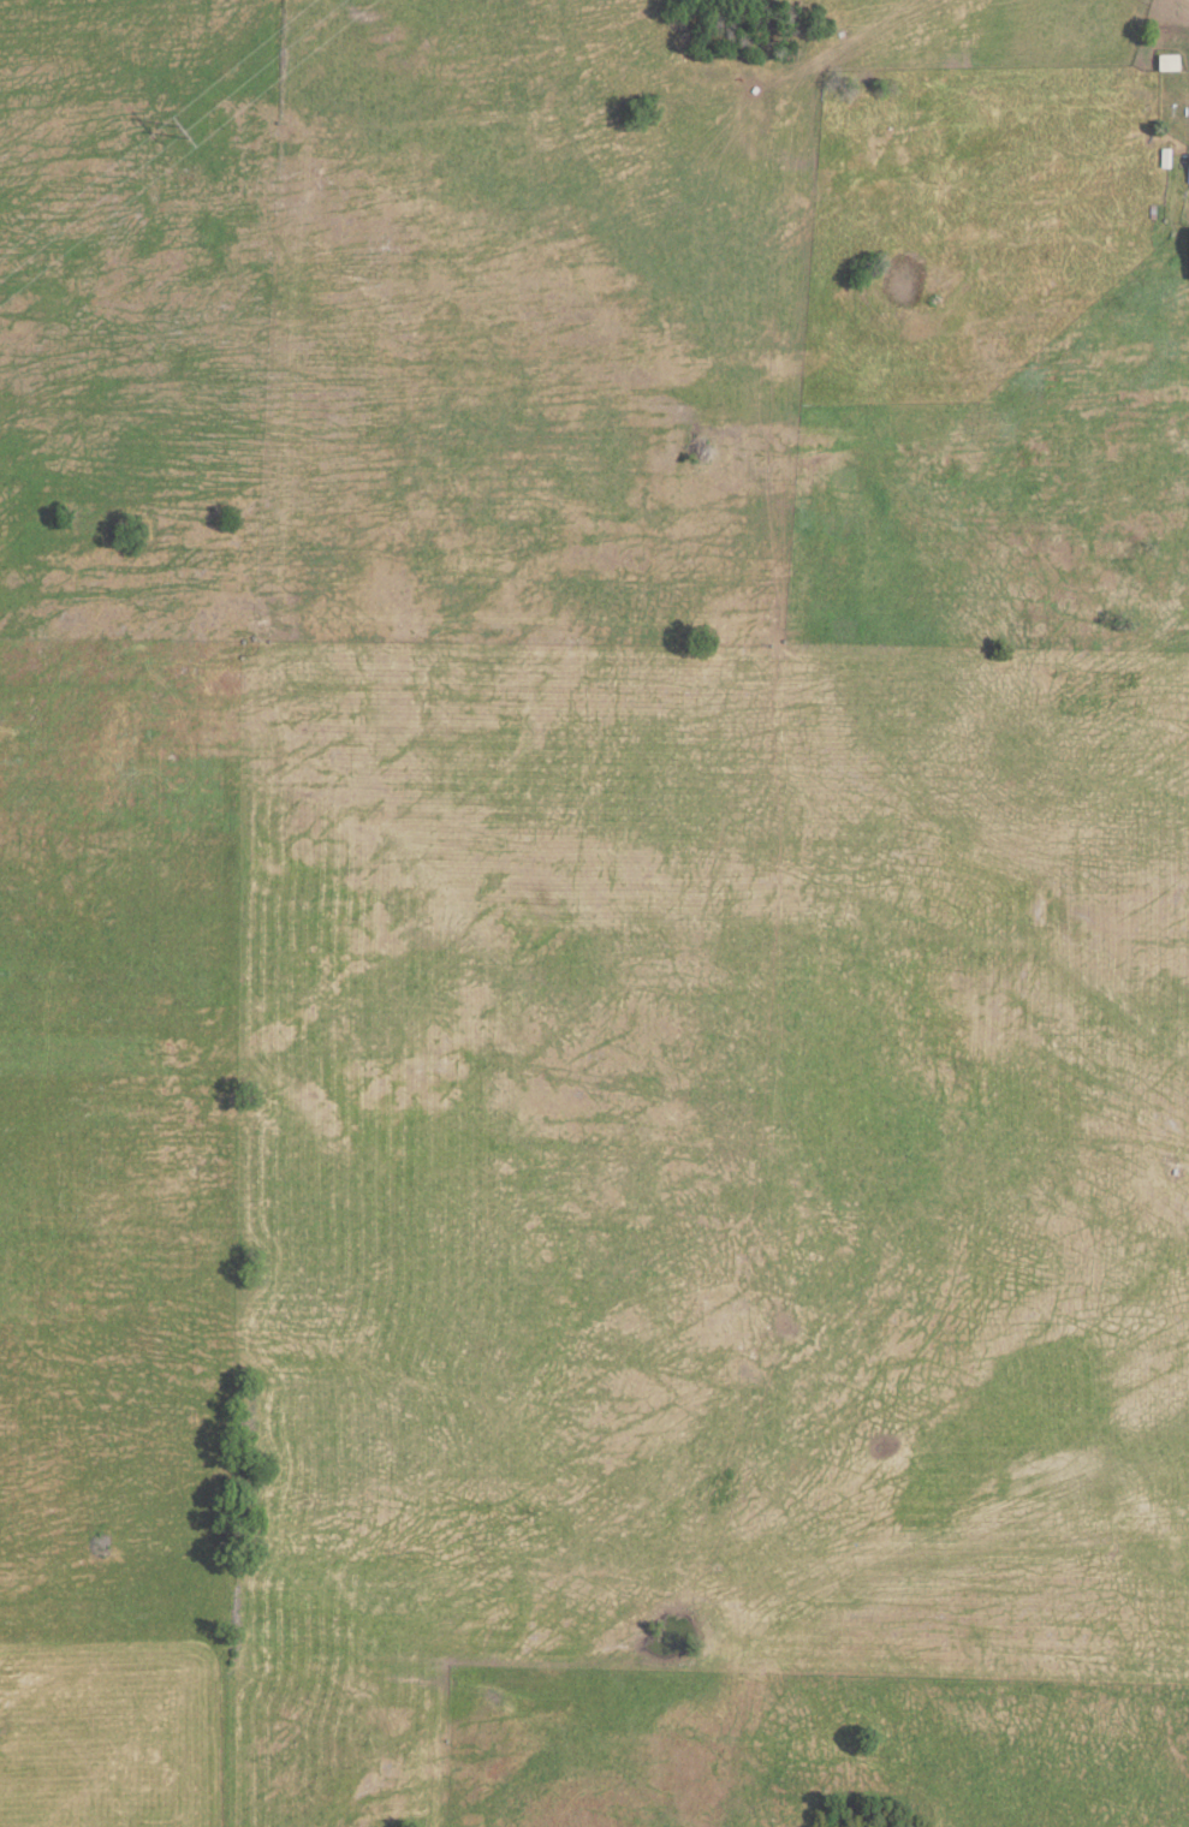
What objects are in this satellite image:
building: (1166, 60)
power tower: (177, 132)
building: (1187, 166)

